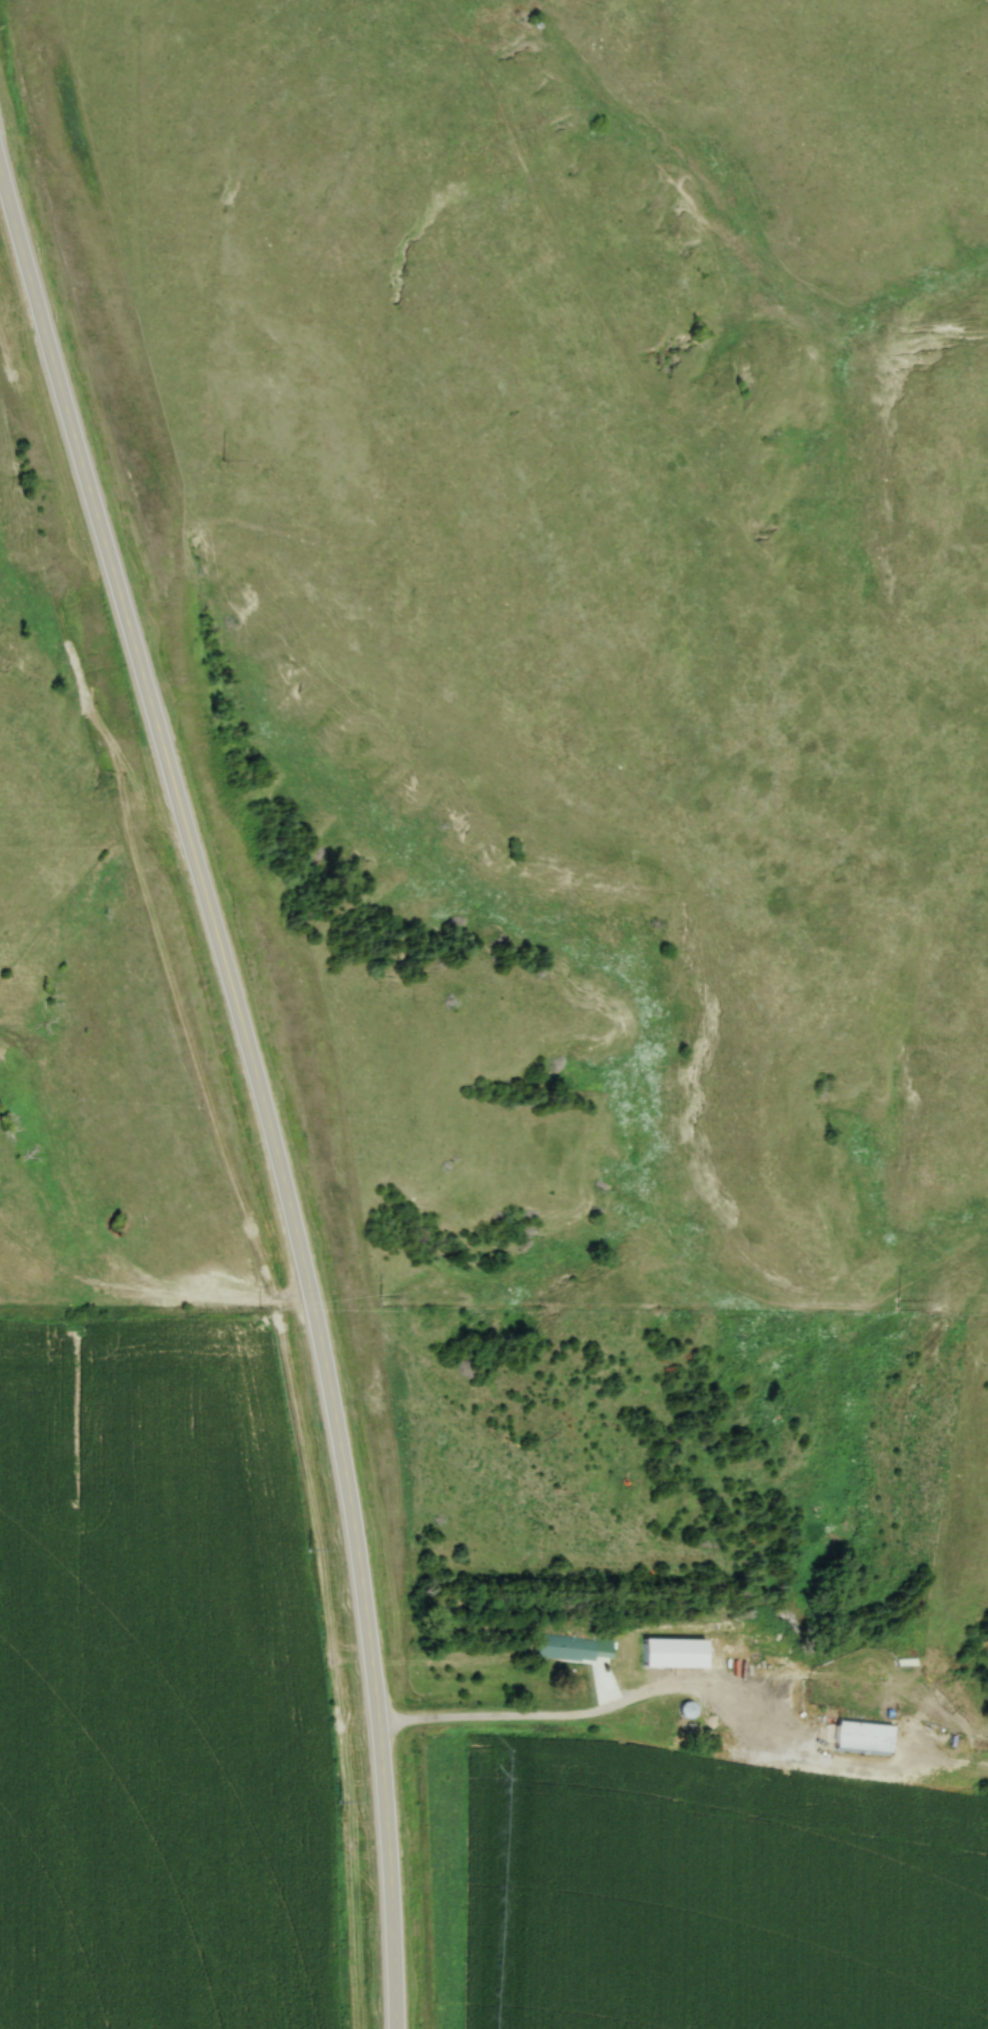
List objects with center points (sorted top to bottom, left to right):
road: (261, 1085)
building: (729, 1650)
building: (567, 1651)
building: (613, 1653)
building: (650, 1660)
building: (722, 1705)
building: (688, 1712)
road: (507, 1719)
building: (690, 1732)
building: (863, 1740)

